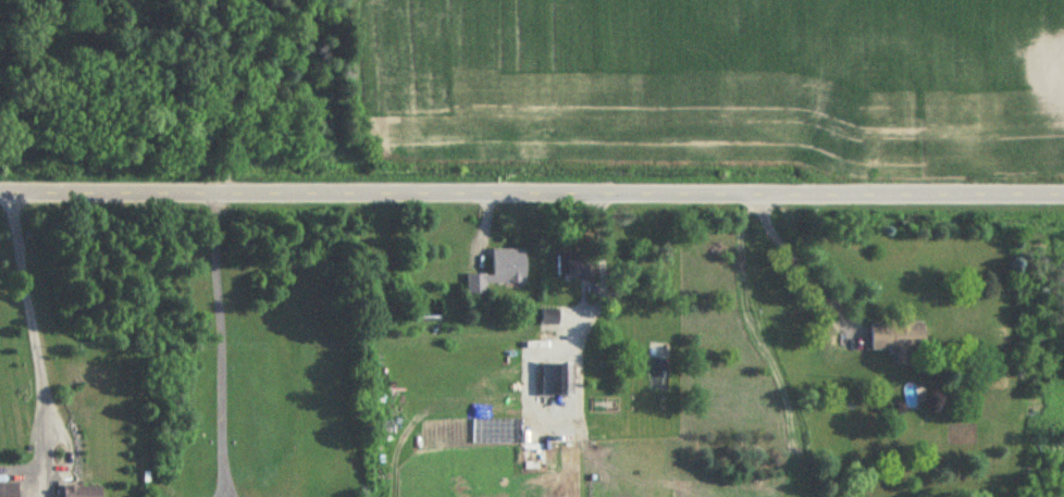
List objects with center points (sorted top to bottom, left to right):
road: (258, 94)
road: (532, 187)
road: (799, 263)
building: (571, 266)
road: (603, 271)
building: (499, 273)
road: (29, 313)
building: (549, 319)
road: (223, 331)
building: (896, 339)
building: (555, 381)
building: (9, 490)
building: (82, 492)

